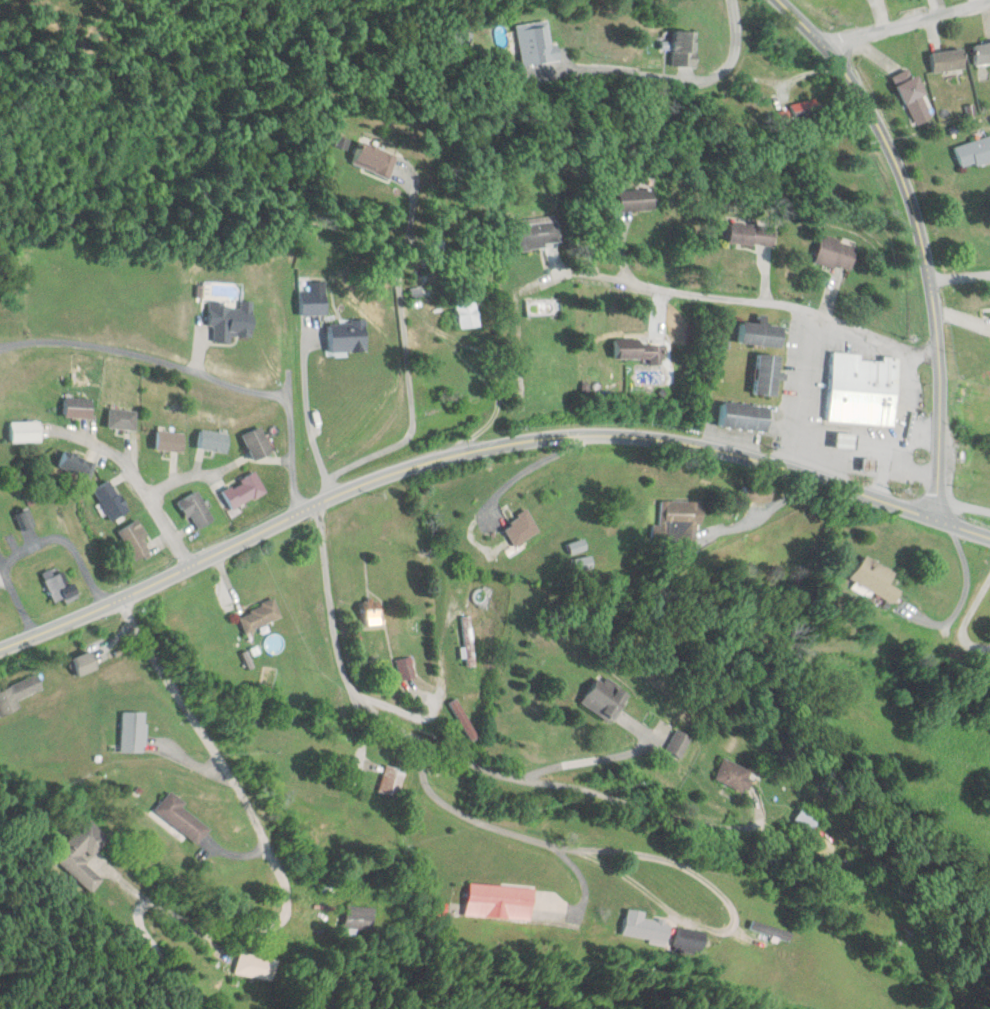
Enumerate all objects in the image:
road: (905, 21)
building: (541, 44)
building: (686, 49)
building: (982, 54)
building: (947, 60)
road: (802, 63)
road: (685, 78)
building: (915, 100)
building: (807, 112)
building: (974, 152)
building: (374, 159)
building: (636, 201)
building: (536, 234)
building: (752, 234)
road: (916, 239)
building: (836, 253)
road: (957, 277)
road: (438, 284)
road: (746, 299)
building: (313, 300)
building: (467, 311)
building: (232, 321)
building: (761, 334)
building: (347, 336)
building: (642, 351)
building: (767, 375)
building: (862, 390)
building: (78, 408)
building: (744, 416)
building: (123, 419)
building: (24, 432)
building: (170, 441)
building: (213, 442)
building: (257, 446)
road: (451, 455)
building: (76, 465)
road: (184, 479)
road: (141, 488)
building: (244, 491)
building: (757, 497)
building: (111, 501)
road: (961, 506)
building: (197, 511)
building: (24, 521)
building: (680, 521)
road: (959, 527)
building: (521, 528)
building: (136, 541)
building: (876, 578)
building: (59, 588)
building: (372, 613)
building: (260, 616)
building: (469, 641)
building: (85, 663)
building: (405, 668)
road: (350, 685)
building: (18, 694)
building: (606, 697)
building: (463, 719)
building: (134, 731)
building: (680, 742)
building: (735, 774)
building: (391, 780)
road: (665, 815)
road: (471, 816)
building: (183, 817)
building: (807, 817)
building: (82, 853)
road: (276, 873)
building: (499, 901)
building: (356, 920)
building: (645, 928)
building: (771, 930)
building: (255, 966)

